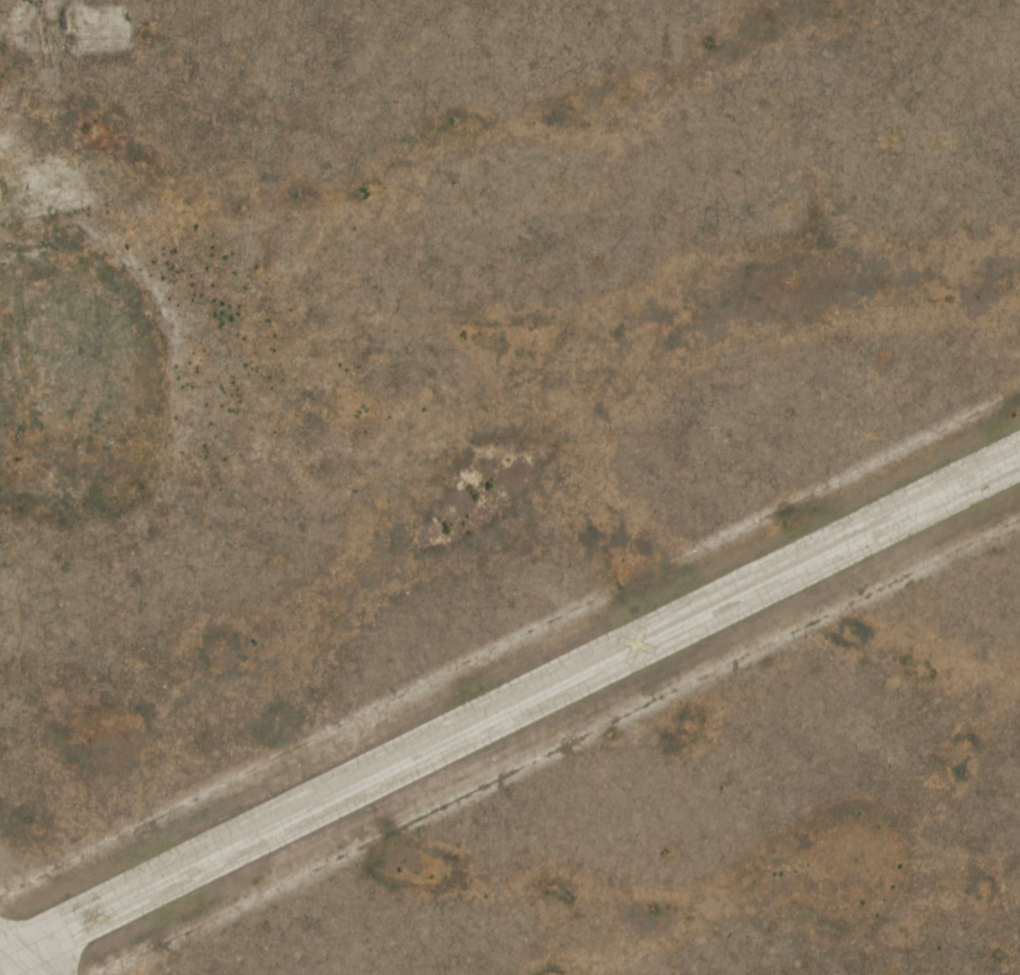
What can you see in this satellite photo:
airport runway: (17, 959)

